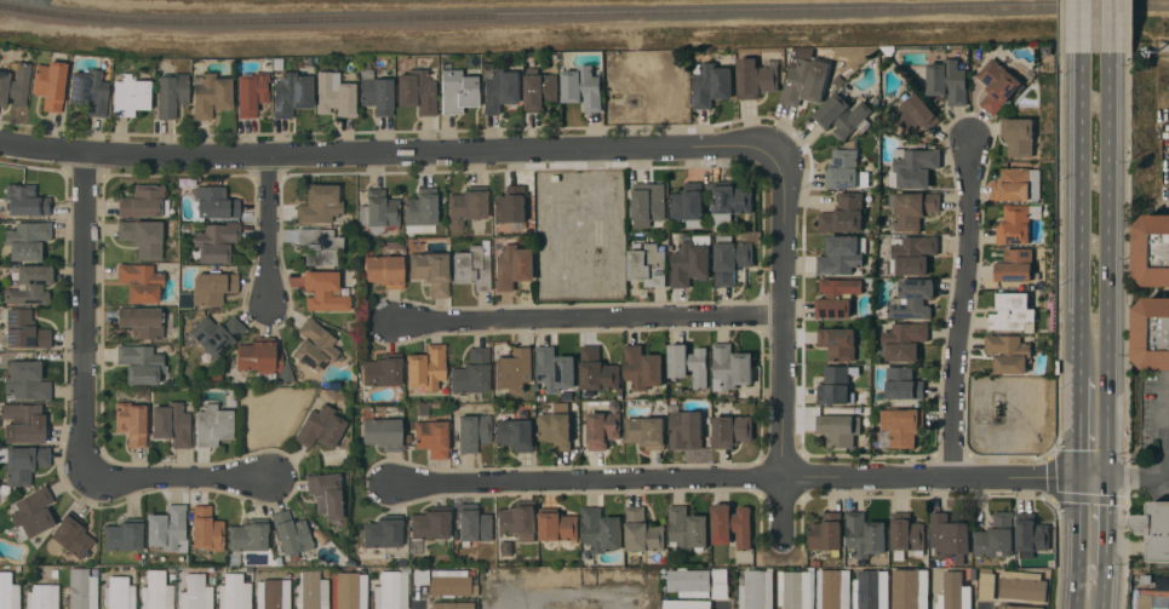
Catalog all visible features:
railway: (584, 13)
road: (1081, 27)
road: (1111, 27)
building: (756, 79)
building: (947, 81)
building: (806, 82)
building: (15, 84)
building: (50, 84)
building: (711, 85)
building: (996, 85)
building: (583, 87)
building: (500, 88)
building: (540, 90)
building: (88, 91)
building: (417, 91)
building: (458, 91)
building: (251, 92)
building: (376, 92)
building: (171, 93)
building: (210, 93)
building: (292, 93)
building: (334, 93)
building: (131, 94)
building: (915, 114)
building: (842, 115)
building: (1018, 136)
road: (44, 146)
road: (434, 153)
building: (912, 167)
building: (842, 170)
road: (595, 183)
building: (1010, 184)
building: (25, 200)
building: (143, 201)
building: (729, 201)
building: (213, 202)
building: (687, 202)
building: (319, 203)
building: (466, 205)
building: (510, 205)
building: (647, 205)
road: (1164, 207)
building: (913, 208)
building: (378, 209)
building: (420, 209)
building: (843, 213)
road: (1081, 214)
building: (1015, 223)
road: (271, 230)
building: (142, 236)
building: (27, 240)
building: (216, 241)
building: (319, 245)
building: (1152, 249)
building: (842, 254)
building: (912, 254)
building: (730, 259)
building: (690, 262)
building: (474, 265)
building: (648, 265)
building: (1014, 265)
road: (1110, 265)
building: (514, 266)
building: (384, 270)
building: (431, 271)
building: (139, 281)
building: (30, 285)
building: (212, 286)
building: (323, 291)
building: (837, 298)
building: (913, 299)
road: (964, 308)
road: (86, 311)
building: (1013, 311)
road: (589, 318)
building: (141, 321)
building: (24, 329)
building: (1152, 333)
building: (216, 334)
building: (904, 340)
building: (838, 343)
building: (315, 344)
road: (784, 344)
building: (1008, 352)
building: (263, 358)
building: (141, 362)
building: (689, 363)
building: (426, 367)
building: (643, 367)
building: (730, 367)
building: (383, 369)
building: (514, 369)
building: (555, 369)
building: (597, 369)
building: (472, 372)
building: (25, 380)
building: (902, 383)
building: (833, 386)
petroleum well: (996, 410)
building: (24, 421)
building: (131, 421)
building: (172, 423)
building: (213, 424)
building: (320, 426)
building: (556, 426)
building: (686, 427)
building: (900, 427)
road: (1079, 427)
building: (603, 429)
building: (838, 429)
building: (732, 430)
building: (472, 431)
building: (646, 431)
building: (383, 432)
building: (515, 433)
building: (432, 436)
building: (24, 463)
road: (179, 478)
road: (750, 478)
traffic signals: (1079, 478)
traffic signals: (1108, 478)
road: (1153, 478)
building: (325, 494)
building: (31, 513)
building: (518, 519)
building: (430, 523)
building: (472, 523)
building: (732, 524)
building: (558, 525)
road: (1107, 527)
building: (167, 528)
building: (206, 528)
building: (687, 528)
building: (601, 529)
building: (1156, 529)
building: (383, 532)
building: (826, 532)
building: (71, 533)
building: (291, 533)
building: (248, 535)
building: (641, 535)
building: (864, 535)
building: (906, 535)
building: (1031, 535)
building: (124, 536)
building: (950, 536)
building: (996, 538)
road: (1077, 544)
building: (420, 575)
building: (720, 578)
building: (449, 581)
building: (688, 582)
building: (1162, 582)
building: (986, 584)
building: (1022, 586)
building: (81, 588)
building: (391, 588)
building: (793, 588)
building: (832, 588)
building: (349, 590)
building: (756, 590)
building: (871, 590)
building: (8, 591)
building: (156, 591)
building: (311, 591)
building: (119, 592)
building: (196, 592)
building: (235, 592)
building: (953, 592)
road: (1104, 592)
building: (273, 593)
building: (909, 593)
building: (42, 596)
building: (1151, 599)
building: (452, 604)
building: (686, 604)
building: (1016, 607)

